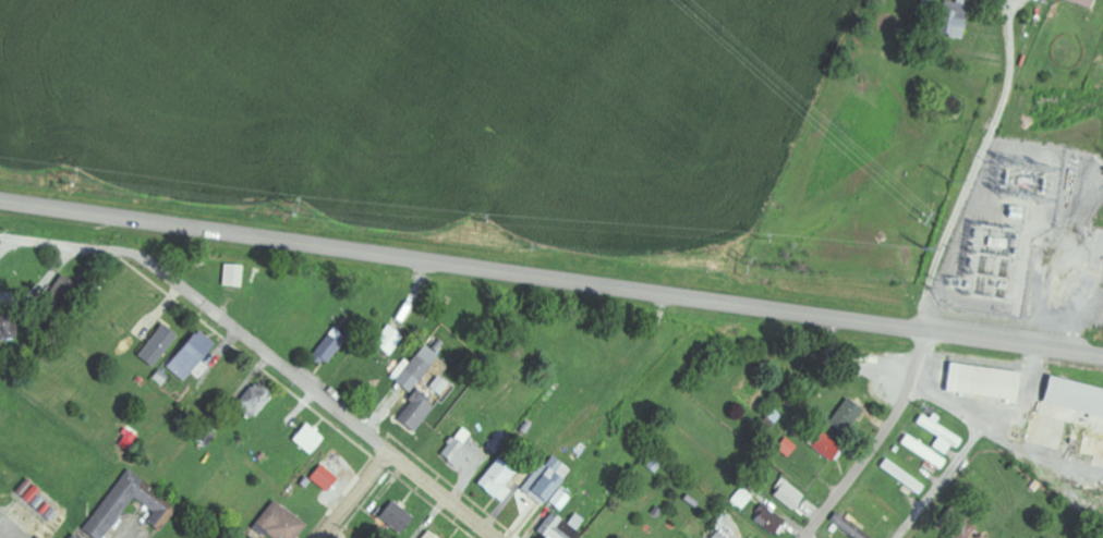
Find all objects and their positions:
building: (1079, 2)
building: (950, 19)
power substation: (1025, 243)
building: (237, 276)
road: (551, 278)
building: (7, 327)
building: (387, 340)
building: (159, 345)
road: (267, 354)
building: (193, 356)
building: (415, 367)
building: (980, 381)
building: (1071, 396)
building: (253, 398)
building: (412, 414)
building: (938, 432)
building: (306, 438)
road: (878, 440)
building: (824, 444)
building: (458, 449)
building: (922, 451)
building: (901, 476)
building: (320, 477)
building: (495, 479)
building: (547, 480)
building: (787, 493)
road: (355, 496)
building: (559, 499)
building: (154, 502)
building: (391, 515)
building: (766, 518)
building: (277, 522)
building: (959, 528)
building: (556, 529)
building: (238, 534)
building: (424, 535)
building: (78, 536)
building: (249, 537)
road: (805, 537)

